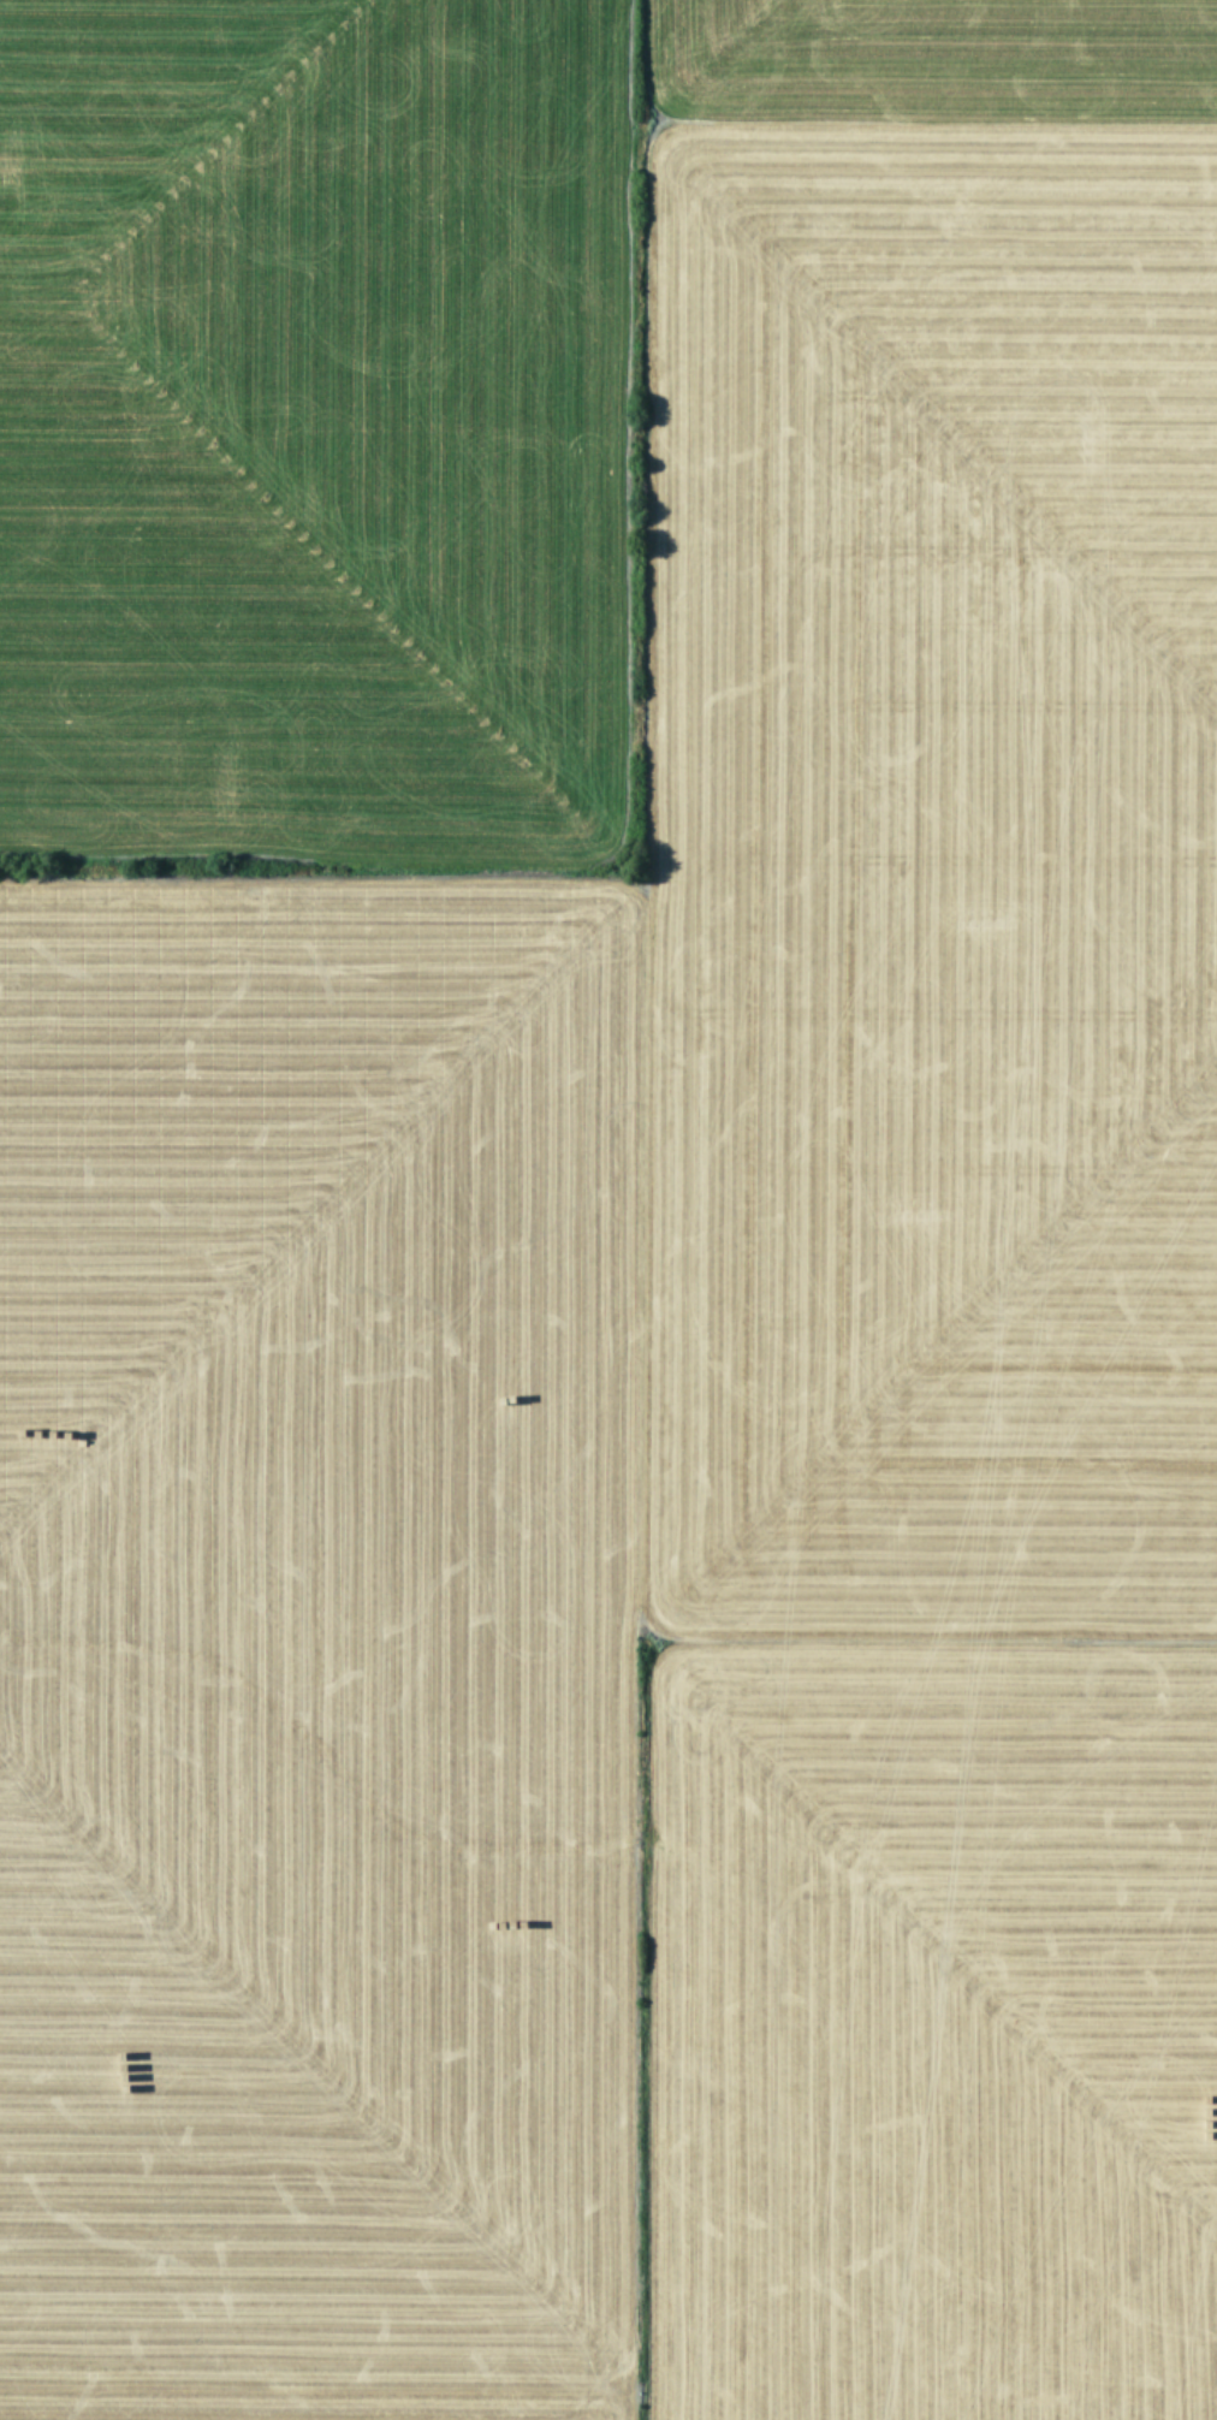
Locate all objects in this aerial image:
crop: (608, 1210)

